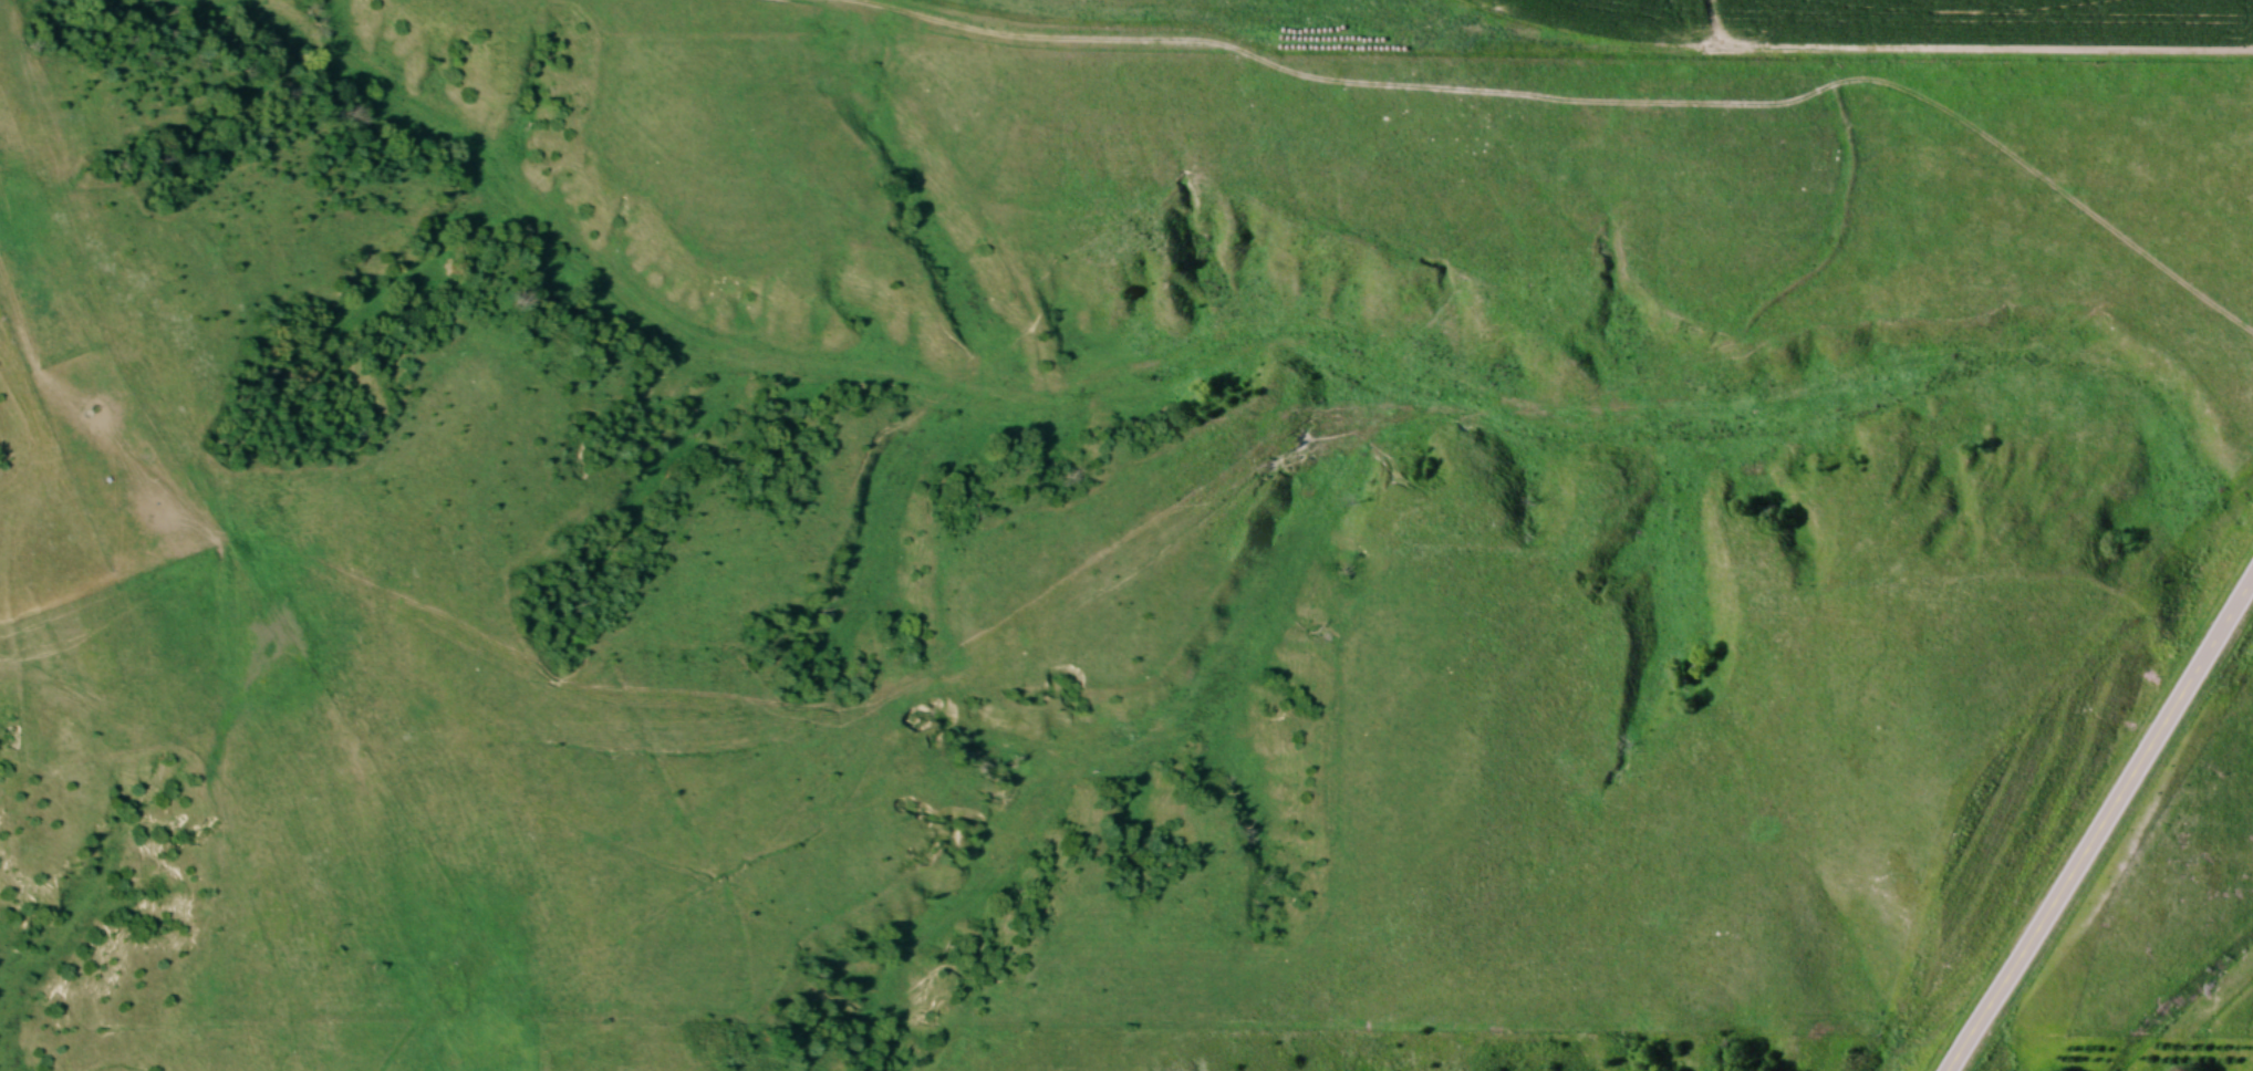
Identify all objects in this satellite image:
road: (2100, 828)

